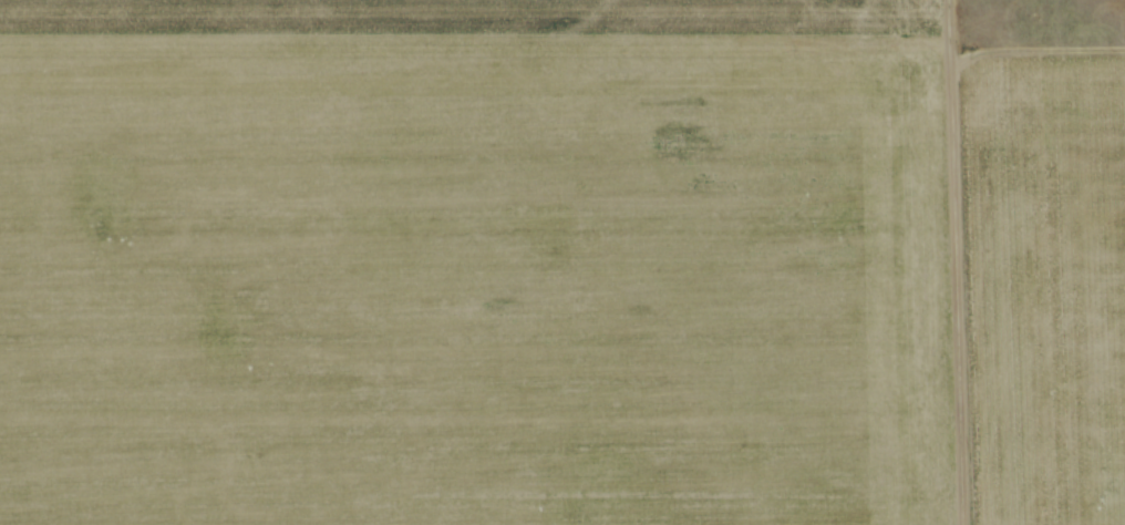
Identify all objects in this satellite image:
road: (953, 262)
crop: (473, 291)

